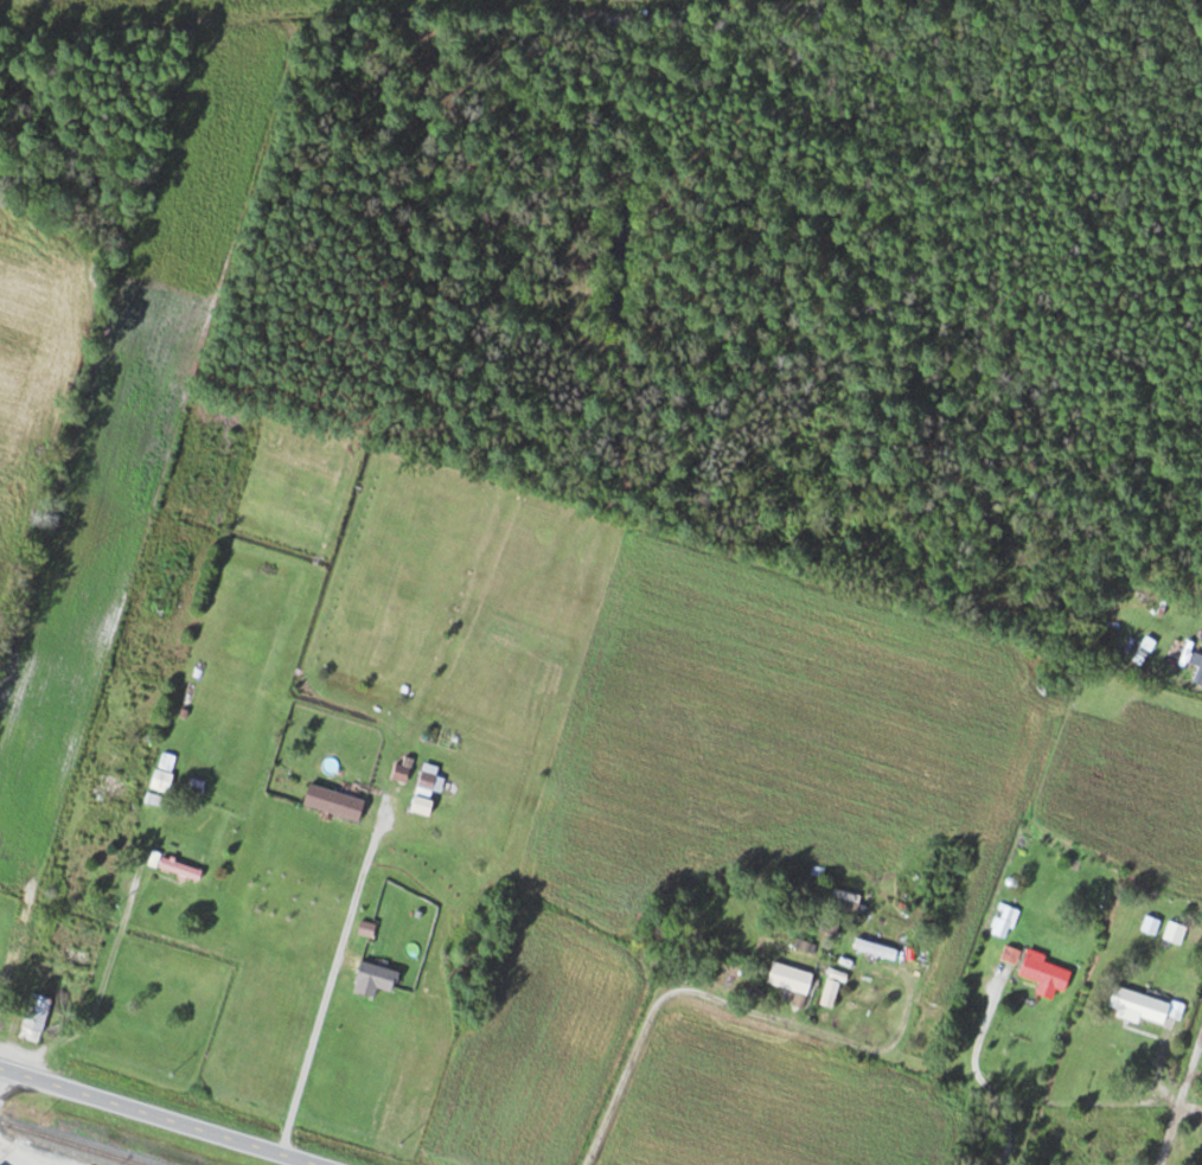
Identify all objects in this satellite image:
building: (1198, 676)
building: (401, 773)
building: (430, 779)
building: (196, 786)
building: (110, 796)
building: (333, 802)
building: (179, 868)
building: (933, 879)
building: (844, 905)
building: (1005, 921)
building: (1175, 933)
building: (806, 947)
building: (876, 948)
building: (76, 959)
building: (1043, 971)
building: (789, 978)
building: (373, 979)
road: (327, 987)
building: (830, 994)
road: (686, 1000)
building: (1138, 1005)
building: (34, 1018)
road: (1031, 1097)
road: (1181, 1102)
road: (154, 1116)
railway: (71, 1142)

